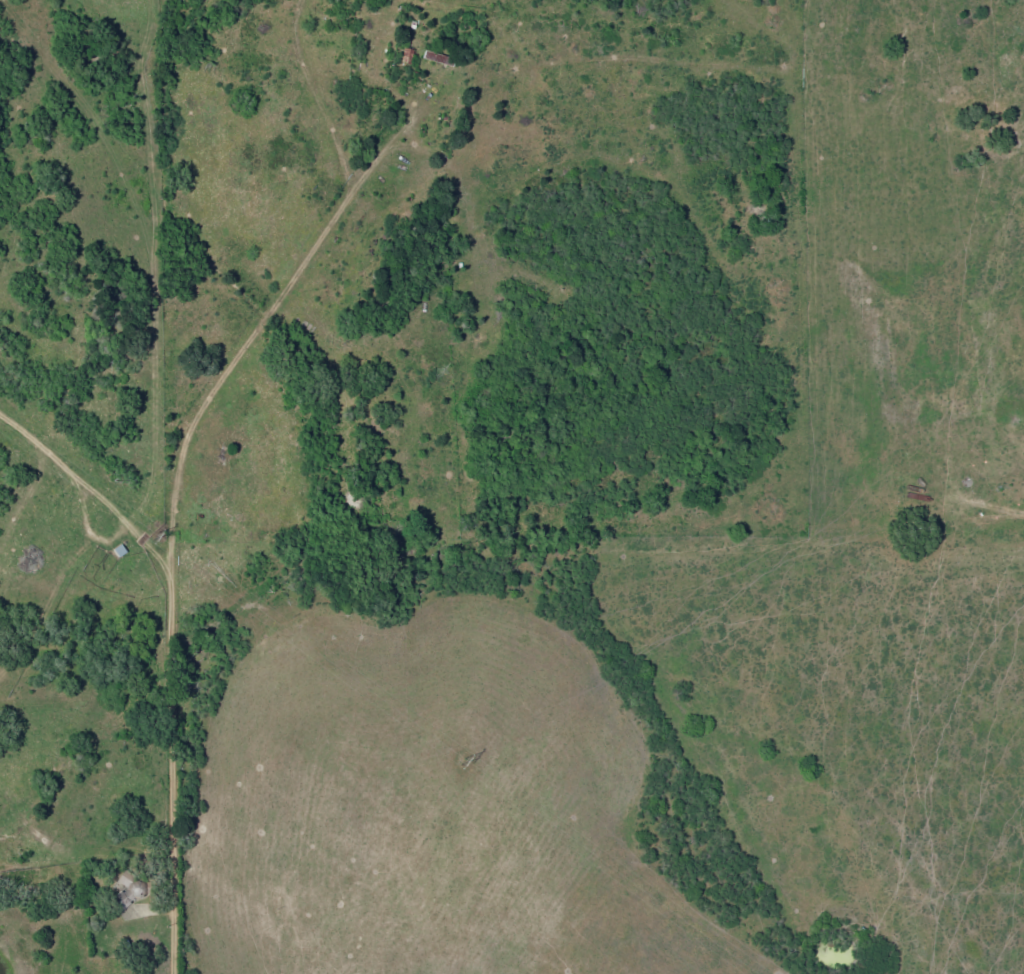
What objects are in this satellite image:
building: (407, 55)
power tower: (145, 537)
road: (176, 761)
power tower: (456, 763)
building: (125, 880)

